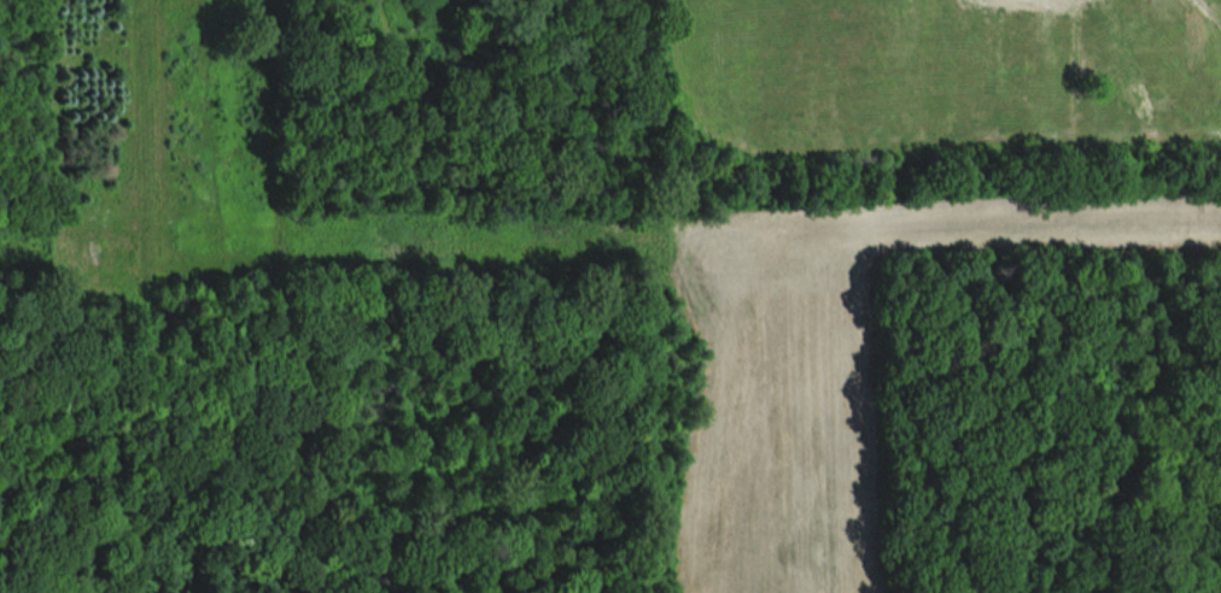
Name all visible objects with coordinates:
crop: (945, 76)
building: (519, 251)
crop: (826, 376)

